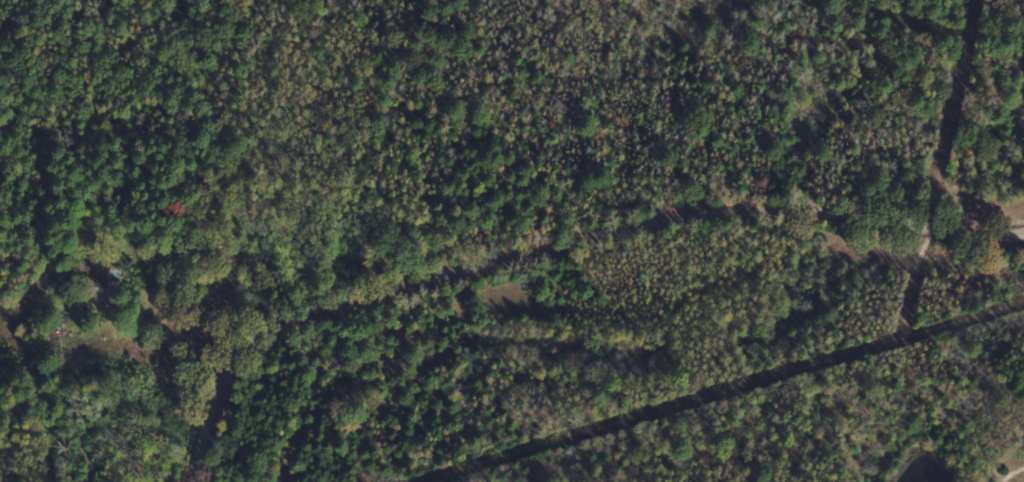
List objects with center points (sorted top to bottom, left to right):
road: (138, 248)
road: (562, 251)
building: (99, 288)

